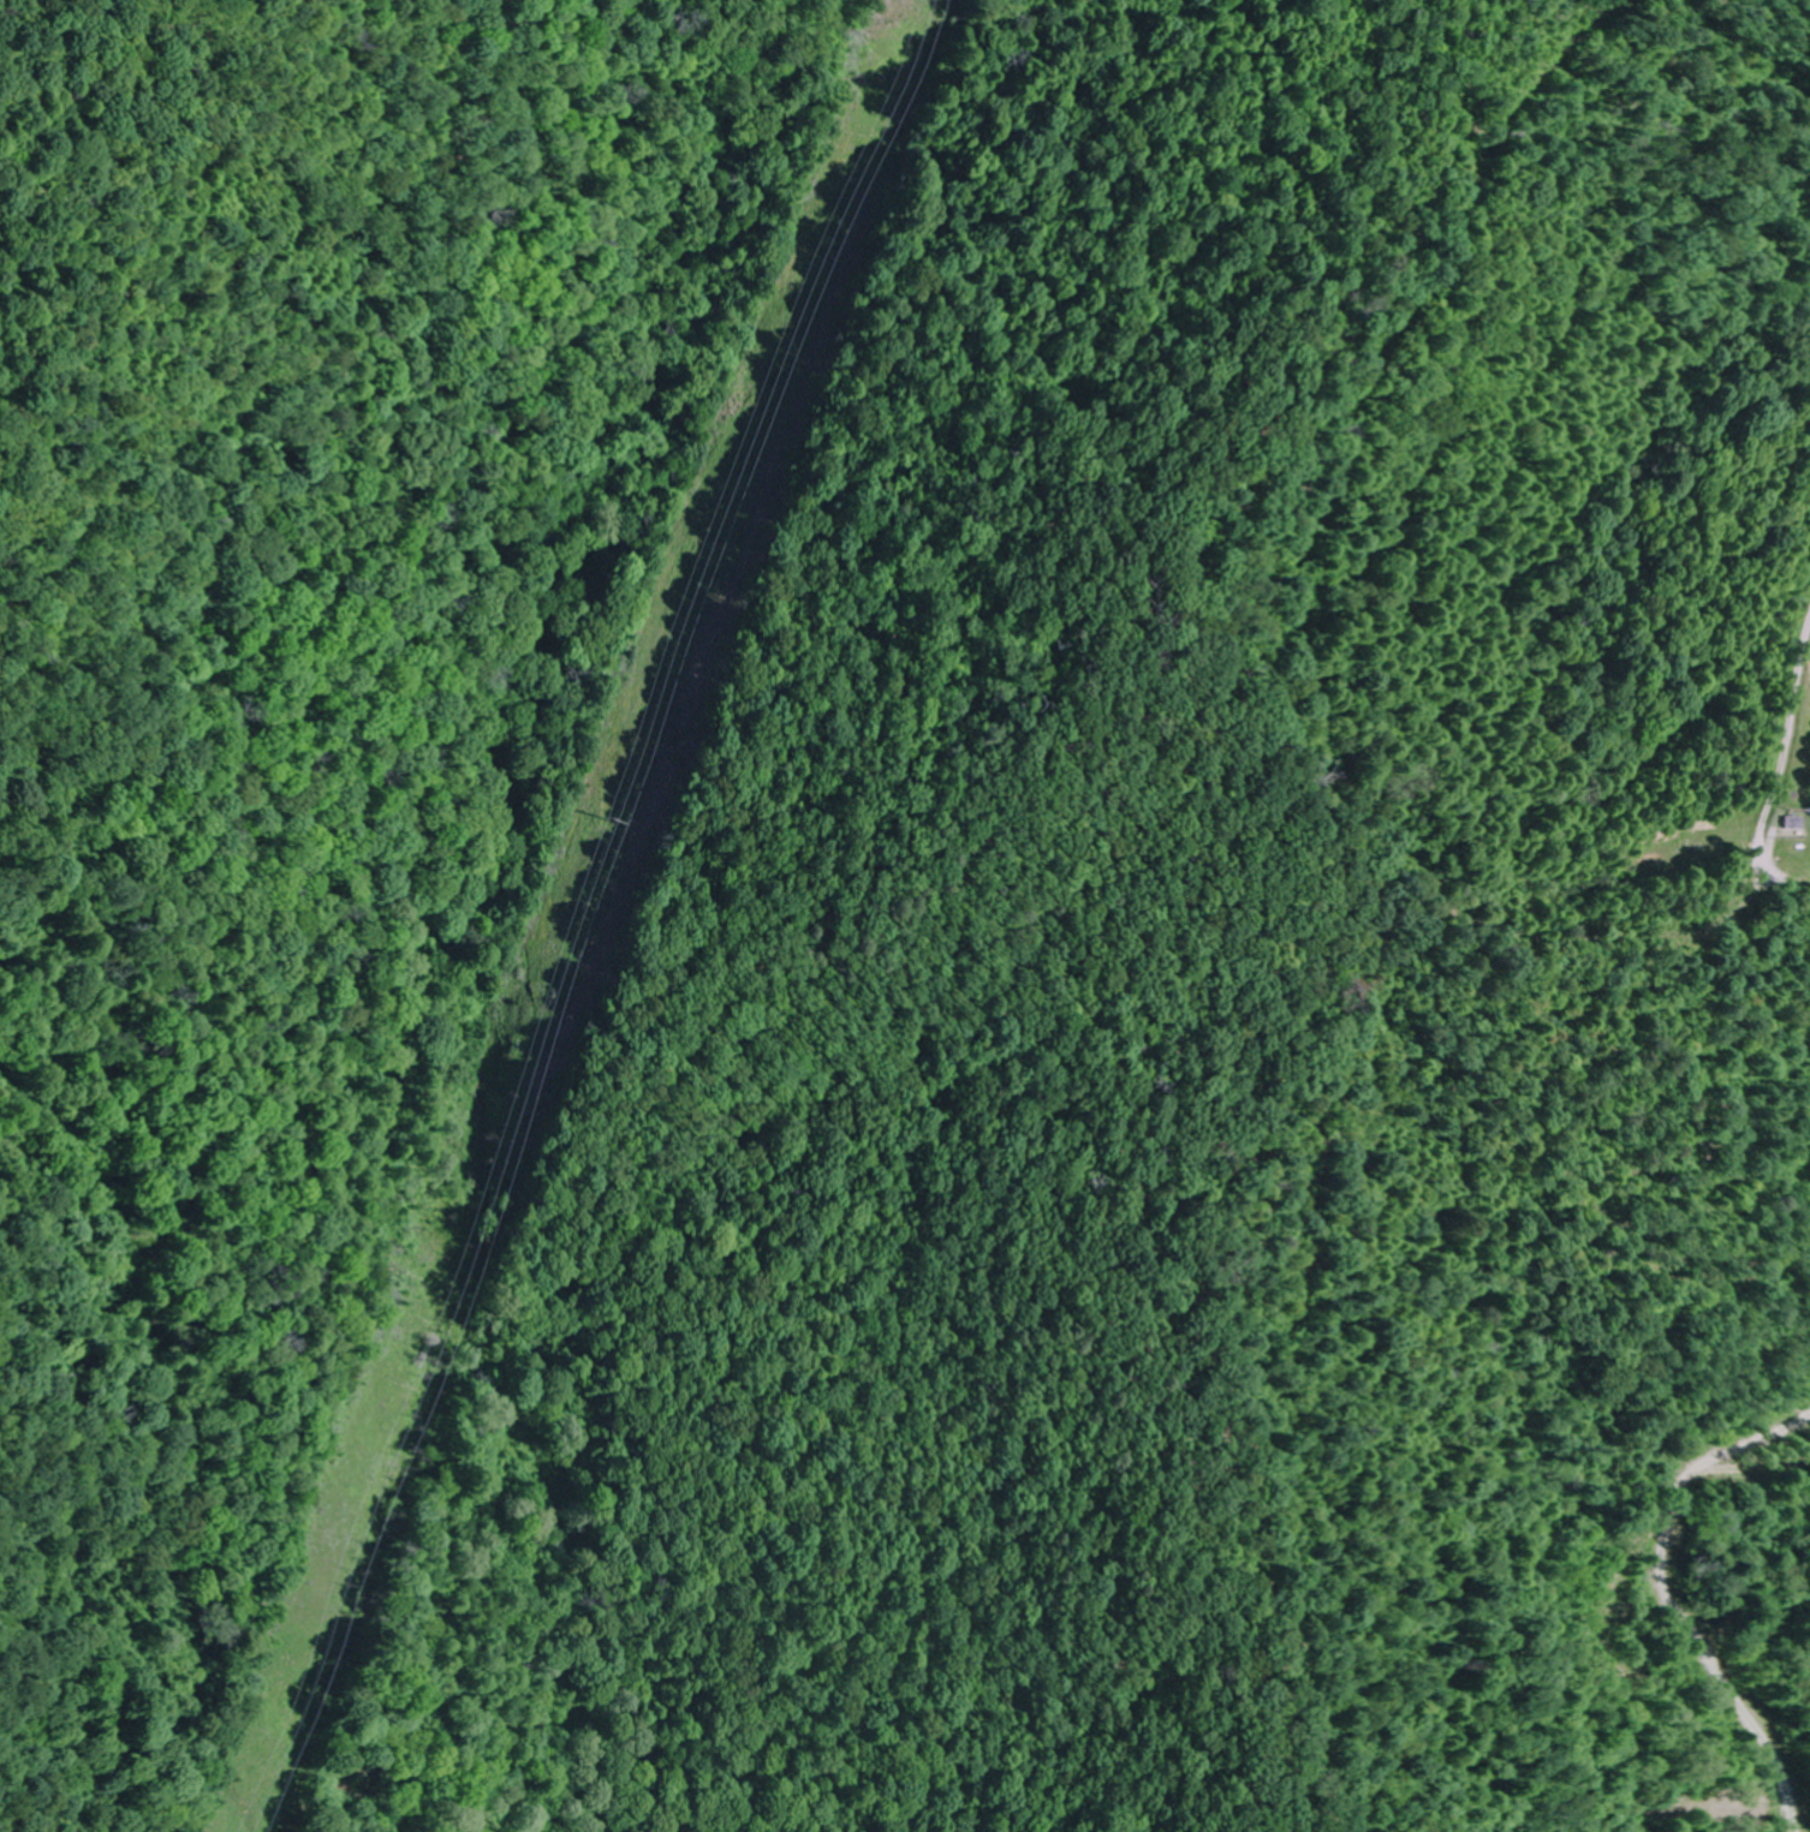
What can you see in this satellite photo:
building: (1791, 822)

